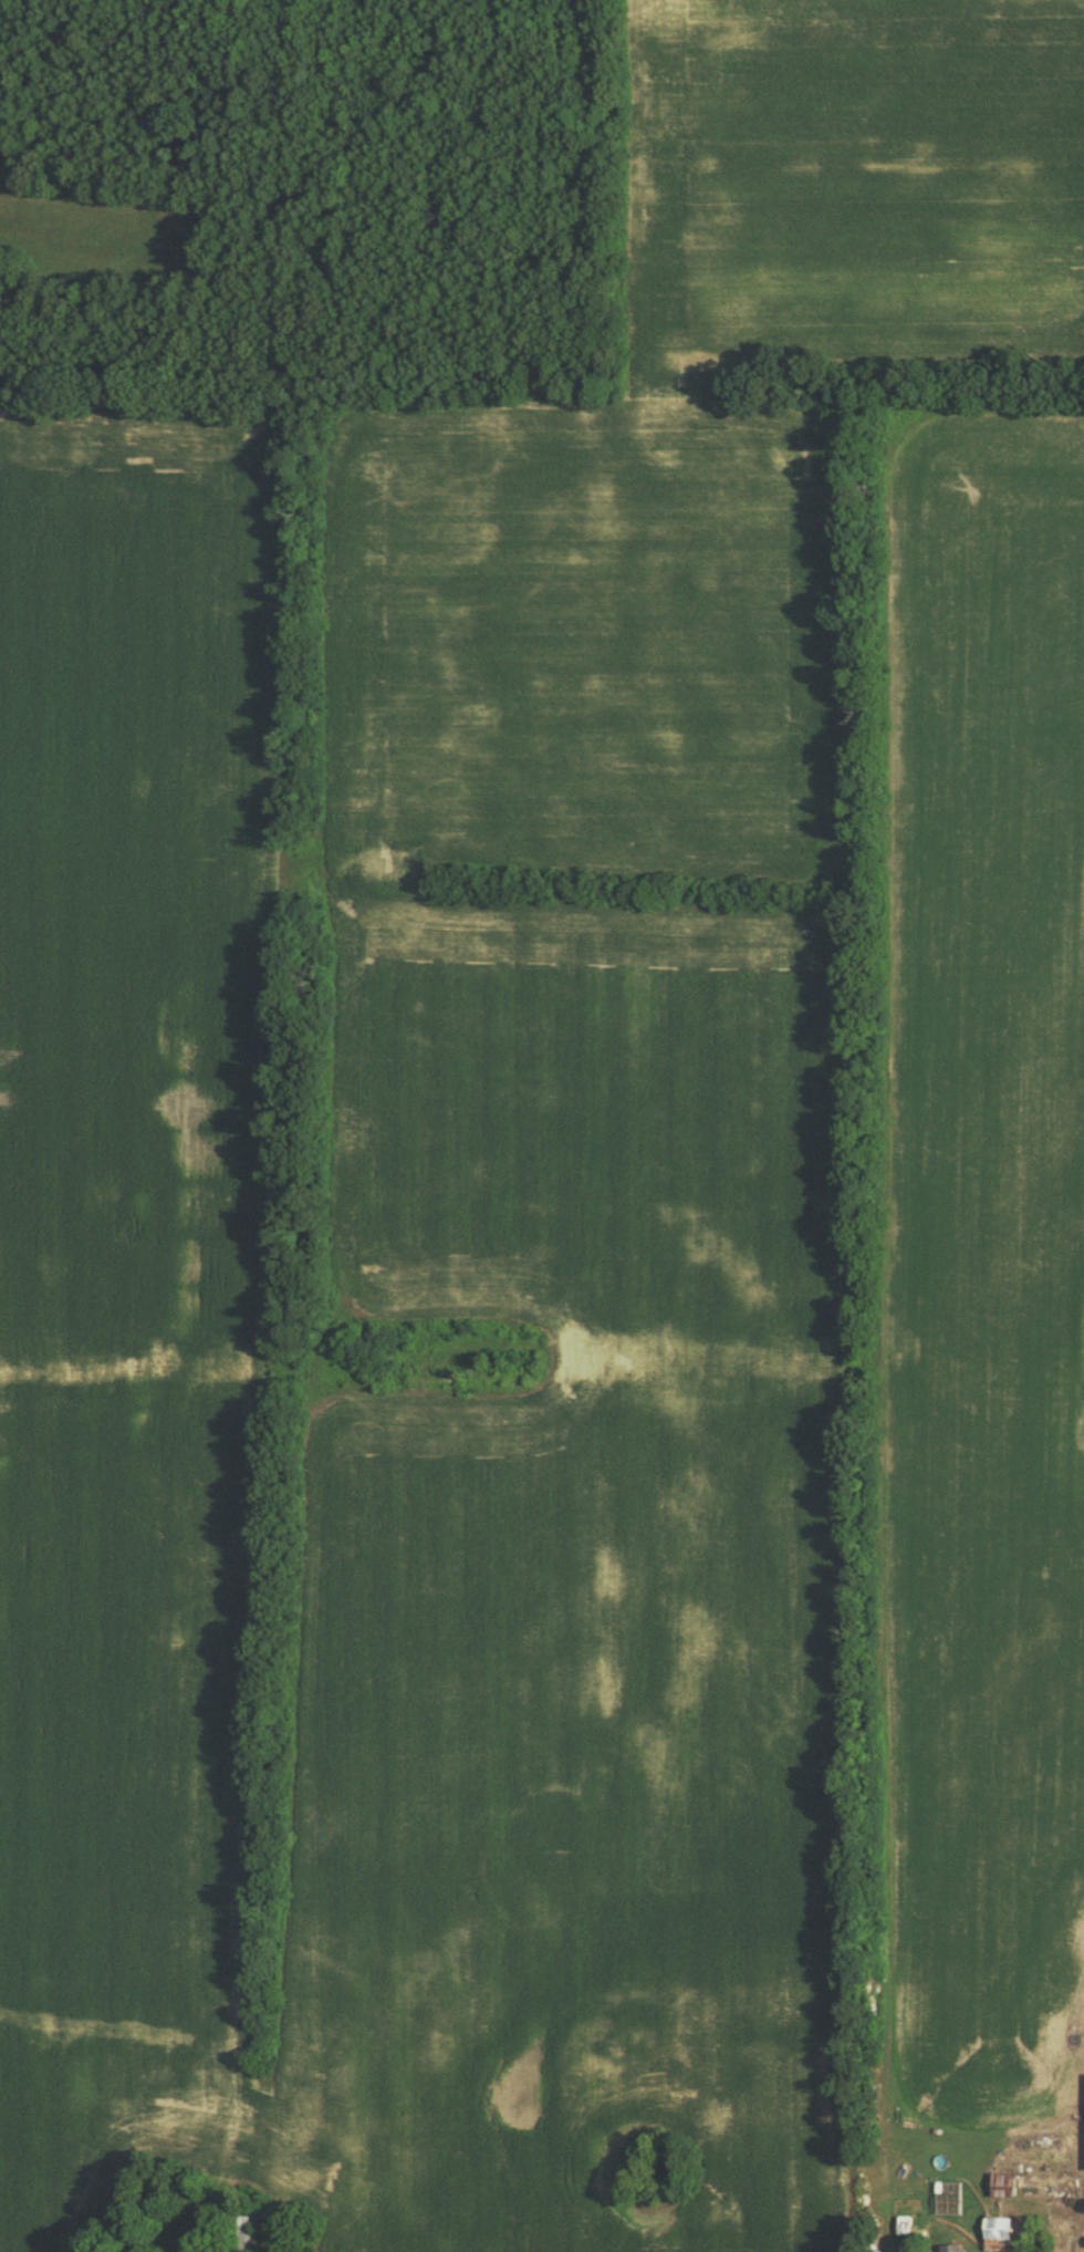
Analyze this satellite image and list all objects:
building: (1003, 2182)
building: (948, 2190)
building: (998, 2231)
building: (949, 2246)

